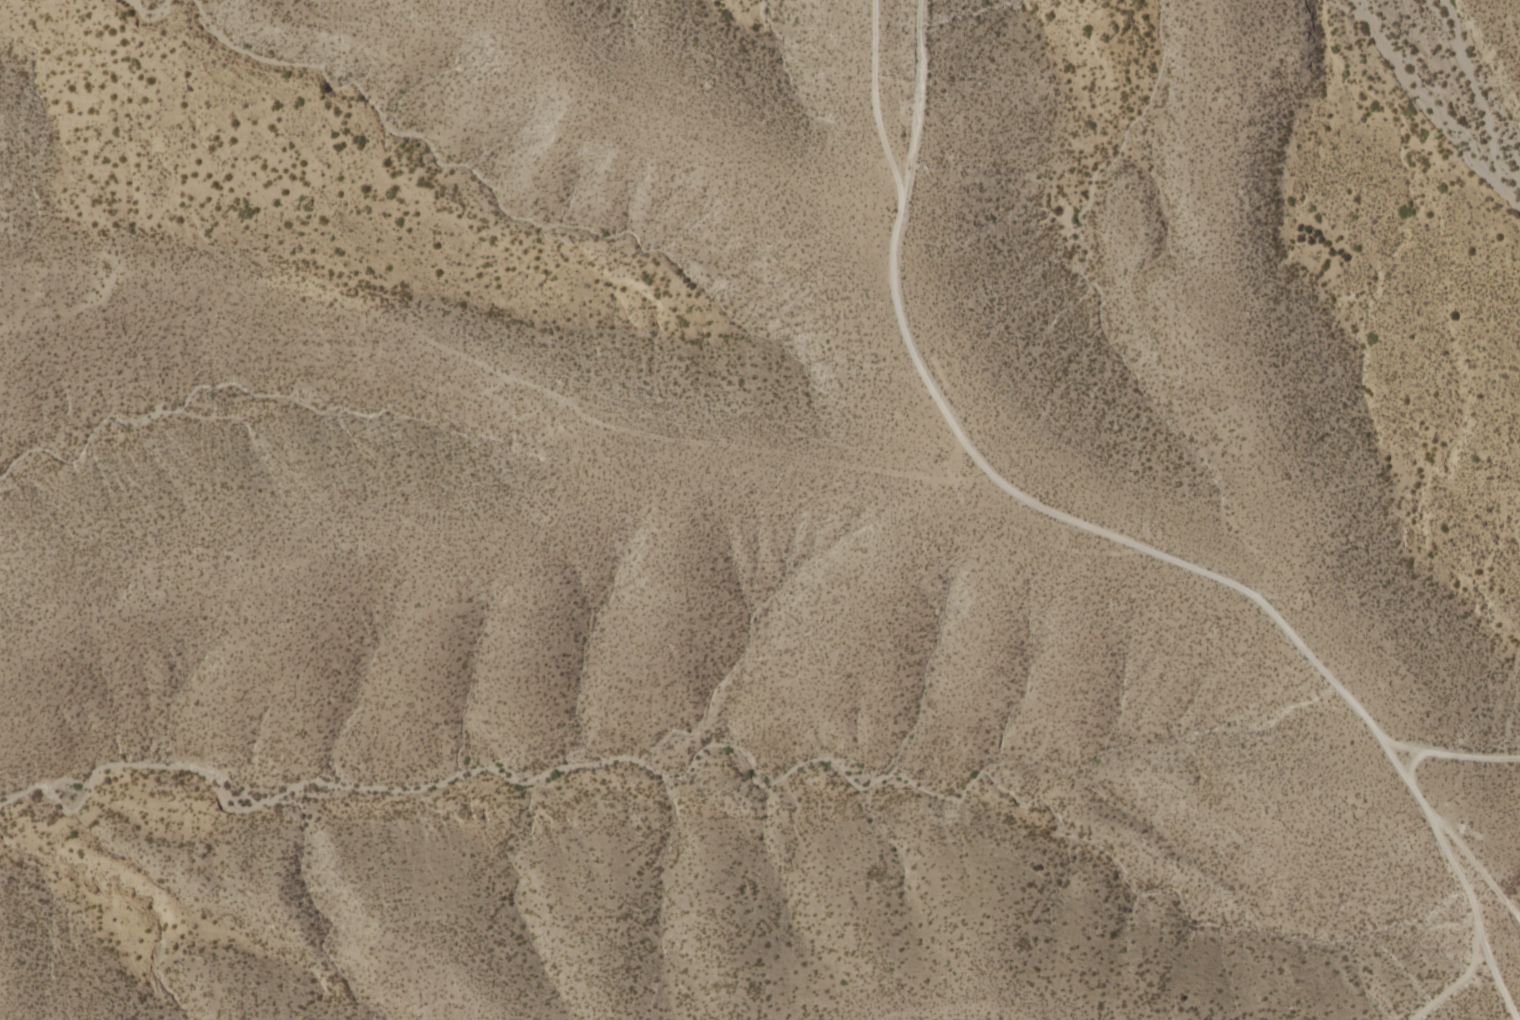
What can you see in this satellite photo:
road: (1479, 74)
road: (873, 101)
road: (710, 443)
road: (1128, 543)
road: (1449, 755)
road: (1452, 836)
road: (1492, 974)

